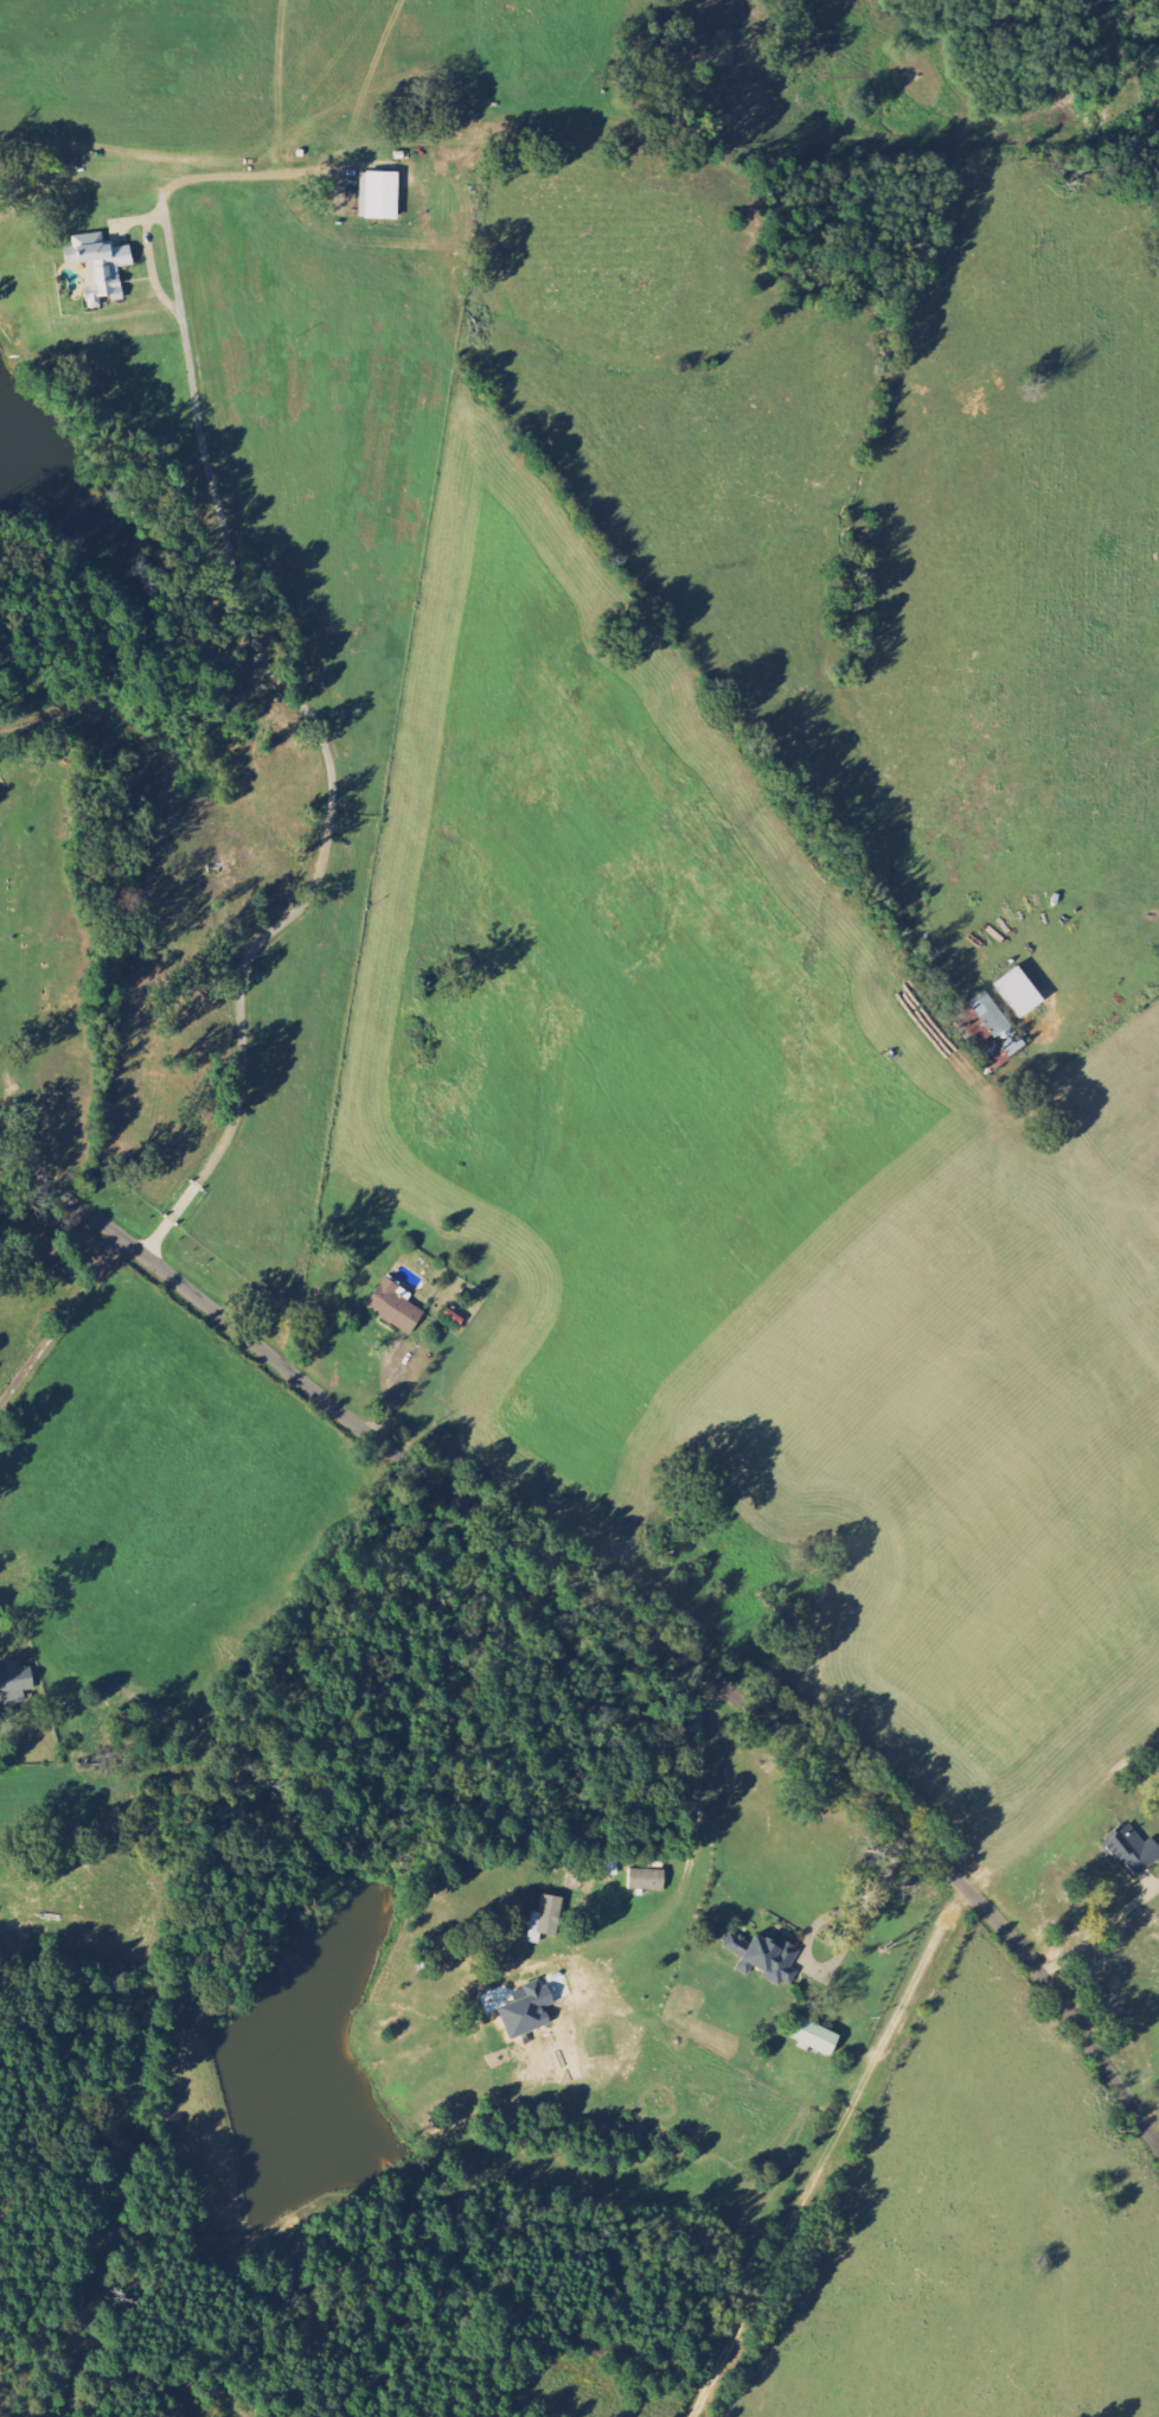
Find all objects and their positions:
building: (377, 196)
building: (97, 267)
building: (1017, 993)
building: (982, 1021)
building: (393, 1306)
building: (452, 1318)
road: (625, 1605)
building: (14, 1678)
building: (1132, 1850)
building: (645, 1880)
building: (544, 1920)
building: (762, 1958)
building: (533, 2005)
building: (813, 2036)

